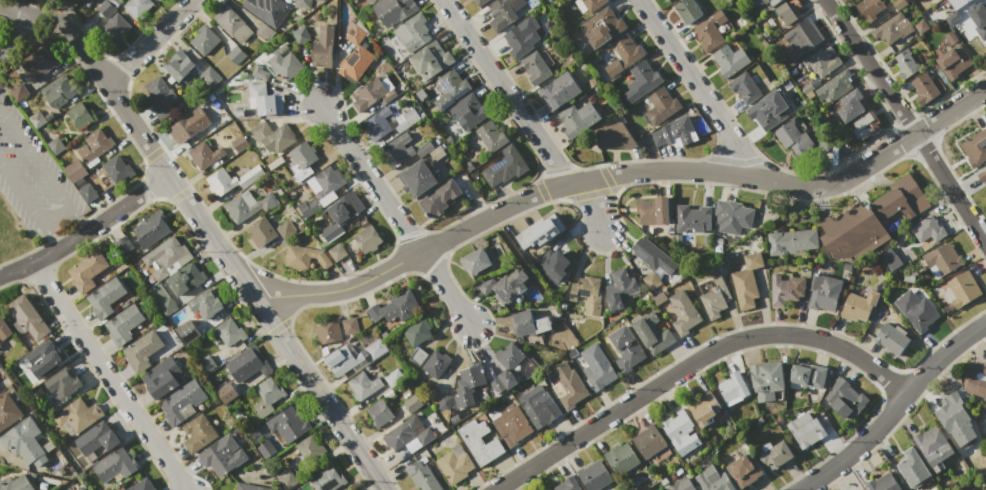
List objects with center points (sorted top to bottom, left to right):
building: (156, 0)
building: (666, 0)
building: (369, 1)
building: (115, 2)
building: (479, 2)
building: (767, 3)
building: (958, 3)
building: (302, 4)
building: (589, 4)
building: (138, 7)
building: (868, 8)
building: (106, 9)
building: (267, 10)
building: (393, 10)
building: (687, 11)
building: (788, 11)
road: (67, 12)
building: (504, 13)
road: (37, 15)
building: (979, 15)
park: (26, 25)
building: (233, 25)
building: (921, 26)
building: (602, 27)
building: (115, 28)
building: (892, 29)
building: (711, 30)
building: (264, 31)
building: (412, 33)
road: (13, 34)
building: (355, 34)
building: (807, 34)
building: (301, 35)
building: (520, 39)
building: (204, 40)
road: (150, 42)
building: (985, 43)
building: (323, 47)
building: (285, 50)
road: (333, 54)
building: (623, 55)
building: (237, 57)
building: (953, 58)
building: (430, 60)
building: (730, 60)
building: (822, 61)
building: (355, 63)
building: (38, 64)
building: (905, 64)
building: (179, 65)
building: (284, 65)
building: (536, 68)
building: (260, 72)
building: (210, 76)
building: (645, 76)
road: (696, 85)
building: (835, 85)
building: (451, 88)
building: (744, 88)
building: (924, 88)
building: (59, 91)
building: (559, 91)
building: (18, 92)
building: (368, 94)
building: (211, 96)
building: (161, 98)
building: (265, 100)
building: (850, 105)
building: (661, 106)
building: (472, 109)
building: (769, 110)
building: (238, 112)
building: (80, 115)
road: (525, 117)
building: (578, 118)
building: (37, 120)
building: (405, 120)
road: (908, 121)
building: (378, 124)
building: (866, 125)
building: (187, 126)
building: (679, 131)
building: (273, 136)
building: (491, 136)
building: (613, 136)
building: (658, 137)
building: (794, 139)
building: (240, 143)
building: (95, 145)
building: (55, 146)
building: (424, 148)
building: (975, 148)
building: (398, 150)
building: (437, 153)
building: (303, 154)
building: (205, 155)
building: (240, 160)
building: (505, 166)
building: (117, 169)
road: (42, 170)
building: (74, 170)
building: (982, 176)
road: (622, 177)
park: (34, 178)
parking lot: (34, 178)
building: (417, 178)
building: (232, 179)
building: (328, 184)
building: (87, 193)
building: (439, 198)
building: (249, 205)
road: (30, 206)
building: (309, 207)
building: (346, 207)
building: (653, 210)
road: (55, 215)
road: (398, 216)
building: (733, 216)
building: (692, 218)
building: (870, 220)
building: (928, 229)
building: (152, 230)
building: (285, 230)
road: (86, 231)
building: (332, 231)
building: (262, 232)
building: (538, 233)
building: (367, 239)
building: (792, 241)
building: (124, 245)
building: (337, 252)
road: (222, 253)
building: (653, 256)
building: (166, 257)
building: (304, 258)
building: (943, 258)
building: (474, 261)
building: (555, 263)
building: (847, 266)
building: (87, 271)
building: (186, 279)
building: (747, 281)
building: (505, 286)
building: (620, 288)
building: (963, 288)
building: (786, 289)
building: (823, 292)
building: (587, 293)
building: (105, 297)
building: (715, 298)
building: (162, 300)
building: (206, 304)
building: (859, 305)
building: (395, 307)
building: (683, 312)
building: (918, 312)
building: (28, 318)
building: (528, 323)
building: (123, 324)
building: (350, 326)
building: (4, 329)
building: (188, 331)
building: (230, 332)
building: (329, 332)
building: (417, 332)
building: (652, 334)
building: (891, 339)
building: (0, 345)
building: (376, 349)
building: (626, 349)
building: (142, 350)
building: (510, 356)
building: (418, 357)
building: (43, 359)
building: (342, 360)
road: (693, 362)
building: (206, 364)
building: (248, 364)
building: (436, 364)
building: (598, 368)
building: (808, 375)
building: (162, 377)
building: (394, 378)
road: (111, 379)
building: (766, 380)
building: (975, 380)
building: (503, 381)
building: (468, 384)
building: (363, 385)
building: (567, 385)
building: (62, 386)
building: (734, 387)
building: (226, 393)
building: (388, 394)
building: (267, 395)
building: (844, 398)
building: (181, 401)
building: (444, 402)
building: (412, 404)
building: (537, 407)
building: (704, 409)
road: (894, 409)
building: (8, 412)
building: (379, 413)
building: (77, 417)
building: (952, 418)
building: (291, 420)
building: (510, 424)
building: (677, 426)
building: (804, 429)
building: (198, 433)
building: (407, 435)
building: (97, 438)
building: (648, 441)
building: (479, 442)
building: (26, 443)
building: (934, 446)
building: (308, 448)
building: (266, 449)
building: (776, 454)
building: (222, 455)
building: (621, 458)
building: (454, 464)
building: (114, 465)
building: (912, 468)
building: (744, 471)
building: (594, 476)
building: (423, 477)
building: (286, 478)
building: (328, 479)
building: (713, 480)
road: (380, 482)
building: (16, 483)
building: (883, 483)
building: (143, 485)
building: (567, 485)
building: (681, 485)
building: (248, 487)
building: (80, 488)
building: (118, 488)
building: (353, 489)

